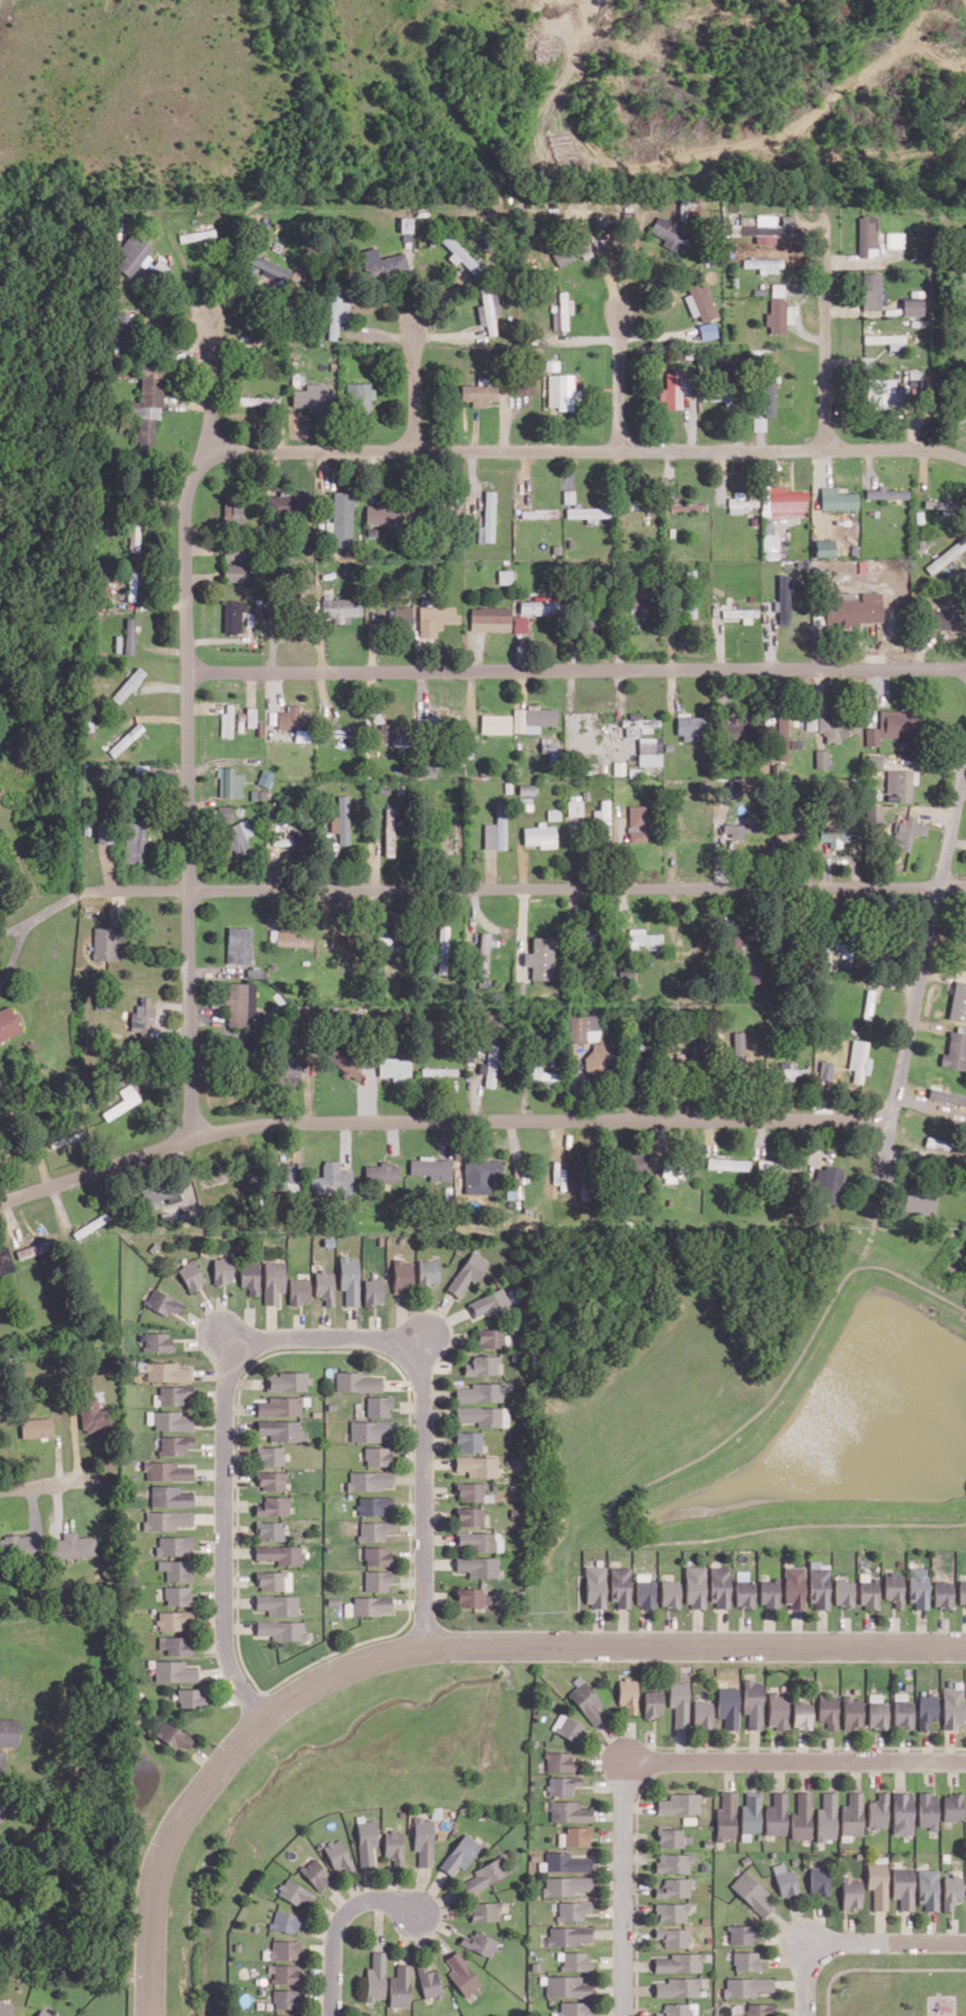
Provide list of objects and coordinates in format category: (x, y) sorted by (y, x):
building: (688, 207)
building: (788, 221)
building: (406, 224)
building: (762, 226)
building: (197, 235)
building: (669, 235)
building: (868, 235)
building: (894, 239)
building: (571, 251)
building: (133, 254)
building: (460, 254)
building: (765, 264)
building: (386, 266)
building: (271, 268)
building: (778, 289)
building: (871, 290)
building: (700, 302)
building: (912, 306)
building: (488, 310)
building: (562, 312)
building: (337, 314)
building: (125, 322)
road: (826, 323)
building: (707, 330)
building: (887, 340)
building: (866, 361)
road: (621, 383)
building: (524, 386)
road: (213, 387)
road: (415, 389)
building: (671, 390)
building: (718, 391)
building: (563, 392)
building: (768, 392)
building: (880, 392)
building: (479, 393)
building: (358, 396)
building: (312, 397)
building: (257, 400)
building: (148, 404)
building: (758, 423)
road: (586, 451)
building: (885, 493)
building: (569, 496)
building: (837, 499)
building: (782, 501)
building: (740, 502)
building: (276, 504)
building: (687, 506)
building: (941, 506)
building: (232, 509)
building: (538, 513)
building: (588, 513)
building: (384, 514)
building: (487, 519)
building: (341, 520)
building: (134, 534)
building: (770, 546)
building: (824, 547)
building: (234, 553)
building: (946, 556)
building: (235, 572)
building: (504, 576)
building: (132, 583)
building: (783, 599)
building: (540, 605)
building: (635, 605)
building: (341, 608)
building: (853, 608)
building: (744, 614)
building: (232, 616)
building: (435, 618)
building: (490, 618)
building: (942, 618)
building: (401, 623)
building: (521, 623)
building: (130, 635)
road: (577, 671)
building: (128, 685)
building: (250, 717)
building: (532, 718)
building: (430, 720)
building: (227, 721)
building: (495, 724)
building: (728, 724)
building: (638, 725)
building: (891, 725)
building: (837, 726)
building: (691, 727)
building: (782, 738)
building: (126, 739)
building: (648, 752)
building: (821, 758)
building: (874, 761)
building: (265, 778)
building: (230, 782)
building: (900, 785)
building: (527, 789)
road: (188, 794)
building: (525, 803)
building: (575, 805)
building: (225, 812)
building: (553, 814)
building: (873, 815)
building: (603, 819)
building: (341, 820)
building: (637, 823)
building: (740, 828)
building: (496, 829)
building: (389, 831)
building: (907, 832)
building: (540, 835)
building: (787, 835)
building: (834, 835)
building: (237, 837)
building: (135, 841)
road: (527, 889)
road: (31, 927)
building: (288, 938)
building: (643, 940)
building: (387, 941)
building: (108, 942)
building: (733, 942)
building: (239, 944)
building: (443, 949)
building: (484, 953)
building: (541, 958)
building: (627, 975)
road: (917, 998)
building: (958, 1001)
building: (240, 1003)
building: (869, 1004)
building: (142, 1016)
building: (8, 1023)
building: (584, 1027)
building: (30, 1044)
building: (738, 1047)
building: (955, 1050)
building: (598, 1059)
building: (857, 1059)
building: (341, 1060)
building: (393, 1066)
building: (490, 1066)
building: (792, 1070)
building: (825, 1070)
building: (439, 1071)
building: (286, 1072)
building: (543, 1073)
building: (947, 1096)
building: (122, 1101)
road: (440, 1122)
building: (964, 1150)
building: (636, 1161)
building: (728, 1163)
building: (768, 1164)
building: (790, 1165)
building: (430, 1168)
building: (381, 1172)
building: (284, 1175)
building: (479, 1175)
building: (332, 1180)
building: (515, 1183)
building: (828, 1183)
building: (160, 1195)
building: (919, 1202)
building: (90, 1225)
building: (33, 1249)
building: (5, 1261)
building: (222, 1270)
building: (428, 1272)
building: (467, 1272)
building: (191, 1275)
building: (250, 1276)
building: (402, 1276)
building: (350, 1279)
building: (274, 1281)
building: (325, 1286)
building: (299, 1291)
building: (374, 1291)
building: (163, 1302)
building: (489, 1302)
road: (327, 1338)
building: (490, 1338)
building: (157, 1341)
building: (482, 1365)
building: (166, 1372)
building: (287, 1381)
building: (357, 1382)
building: (480, 1392)
building: (174, 1395)
building: (279, 1406)
building: (378, 1406)
building: (93, 1415)
building: (483, 1415)
building: (170, 1420)
building: (36, 1427)
building: (279, 1429)
building: (371, 1430)
building: (469, 1441)
building: (175, 1444)
building: (269, 1455)
building: (377, 1456)
building: (477, 1465)
building: (167, 1471)
building: (272, 1480)
building: (368, 1480)
road: (52, 1485)
building: (469, 1491)
road: (424, 1494)
building: (170, 1496)
building: (374, 1505)
building: (273, 1506)
building: (469, 1516)
building: (167, 1519)
building: (270, 1530)
building: (374, 1530)
road: (226, 1534)
building: (478, 1541)
building: (19, 1545)
building: (175, 1545)
building: (72, 1546)
building: (280, 1554)
building: (377, 1556)
building: (478, 1566)
building: (176, 1569)
building: (274, 1580)
building: (376, 1580)
road: (412, 1580)
building: (619, 1586)
building: (817, 1586)
building: (594, 1587)
building: (694, 1587)
building: (718, 1587)
building: (793, 1587)
building: (917, 1587)
building: (893, 1589)
building: (867, 1592)
building: (643, 1593)
building: (768, 1593)
building: (842, 1593)
building: (962, 1593)
building: (668, 1594)
building: (743, 1594)
building: (942, 1594)
building: (177, 1595)
road: (434, 1595)
building: (472, 1597)
road: (409, 1602)
building: (278, 1604)
building: (368, 1605)
building: (174, 1620)
road: (920, 1626)
building: (282, 1629)
road: (867, 1630)
road: (893, 1631)
road: (942, 1631)
road: (744, 1643)
building: (176, 1645)
building: (173, 1671)
building: (627, 1694)
building: (191, 1698)
building: (584, 1701)
building: (652, 1703)
building: (679, 1703)
building: (753, 1703)
building: (728, 1706)
building: (951, 1708)
building: (926, 1709)
building: (777, 1710)
building: (828, 1710)
building: (901, 1710)
building: (876, 1711)
building: (852, 1712)
building: (702, 1714)
building: (802, 1714)
building: (567, 1727)
building: (8, 1731)
road: (241, 1734)
building: (172, 1735)
road: (793, 1759)
building: (2, 1762)
building: (559, 1762)
building: (562, 1785)
road: (610, 1785)
building: (681, 1804)
road: (641, 1805)
building: (951, 1806)
building: (926, 1810)
building: (569, 1811)
building: (878, 1811)
building: (400, 1812)
building: (901, 1813)
road: (610, 1814)
building: (752, 1814)
building: (778, 1815)
building: (803, 1816)
building: (728, 1817)
building: (827, 1817)
road: (613, 1835)
building: (576, 1836)
road: (636, 1836)
building: (672, 1837)
building: (422, 1840)
building: (709, 1841)
building: (365, 1842)
building: (393, 1846)
building: (460, 1853)
building: (337, 1855)
building: (535, 1855)
building: (747, 1858)
building: (567, 1862)
road: (610, 1862)
building: (675, 1863)
building: (705, 1865)
building: (314, 1873)
street lamp: (636, 1873)
building: (485, 1875)
building: (786, 1880)
building: (820, 1881)
road: (610, 1882)
building: (877, 1884)
building: (567, 1885)
road: (625, 1887)
building: (675, 1887)
building: (902, 1887)
building: (926, 1888)
building: (950, 1891)
building: (293, 1892)
building: (851, 1893)
building: (754, 1894)
road: (340, 1900)
road: (438, 1901)
building: (574, 1910)
road: (613, 1910)
road: (434, 1911)
building: (485, 1911)
building: (673, 1912)
road: (433, 1919)
building: (285, 1921)
road: (338, 1924)
road: (929, 1925)
building: (253, 1926)
road: (432, 1931)
road: (609, 1932)
building: (742, 1934)
building: (569, 1935)
building: (675, 1937)
street lamp: (414, 1939)
road: (886, 1941)
building: (480, 1943)
building: (236, 1945)
building: (283, 1949)
building: (575, 1960)
building: (748, 1960)
building: (681, 1963)
building: (284, 1973)
building: (463, 1974)
building: (377, 1977)
road: (805, 1978)
building: (430, 1982)
road: (790, 1984)
park: (893, 1985)
building: (401, 1986)
building: (569, 1986)
building: (748, 1986)
building: (679, 1987)
building: (284, 1998)
building: (707, 2007)
building: (576, 2008)
building: (5, 2009)
building: (679, 2009)
building: (760, 2009)
road: (793, 2011)
building: (43, 2013)
building: (284, 2015)

